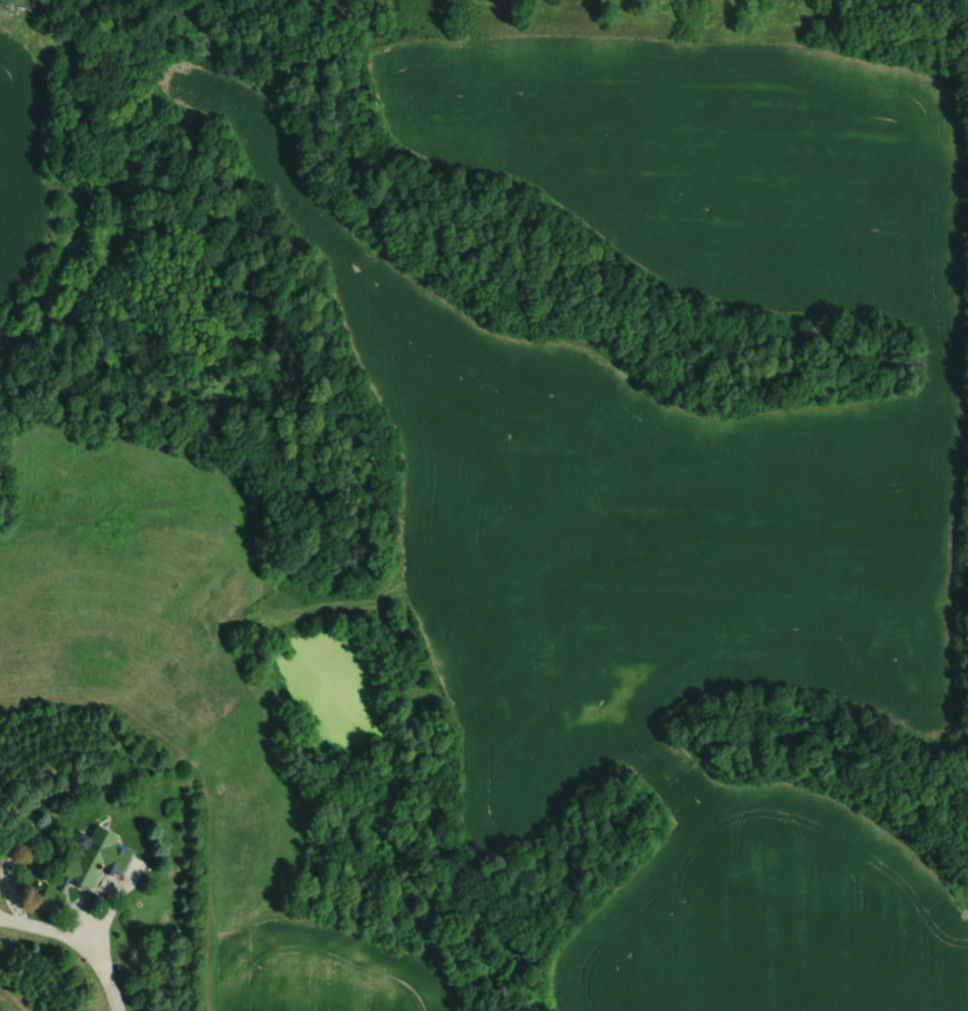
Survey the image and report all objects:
building: (101, 855)
building: (54, 897)
road: (72, 946)

